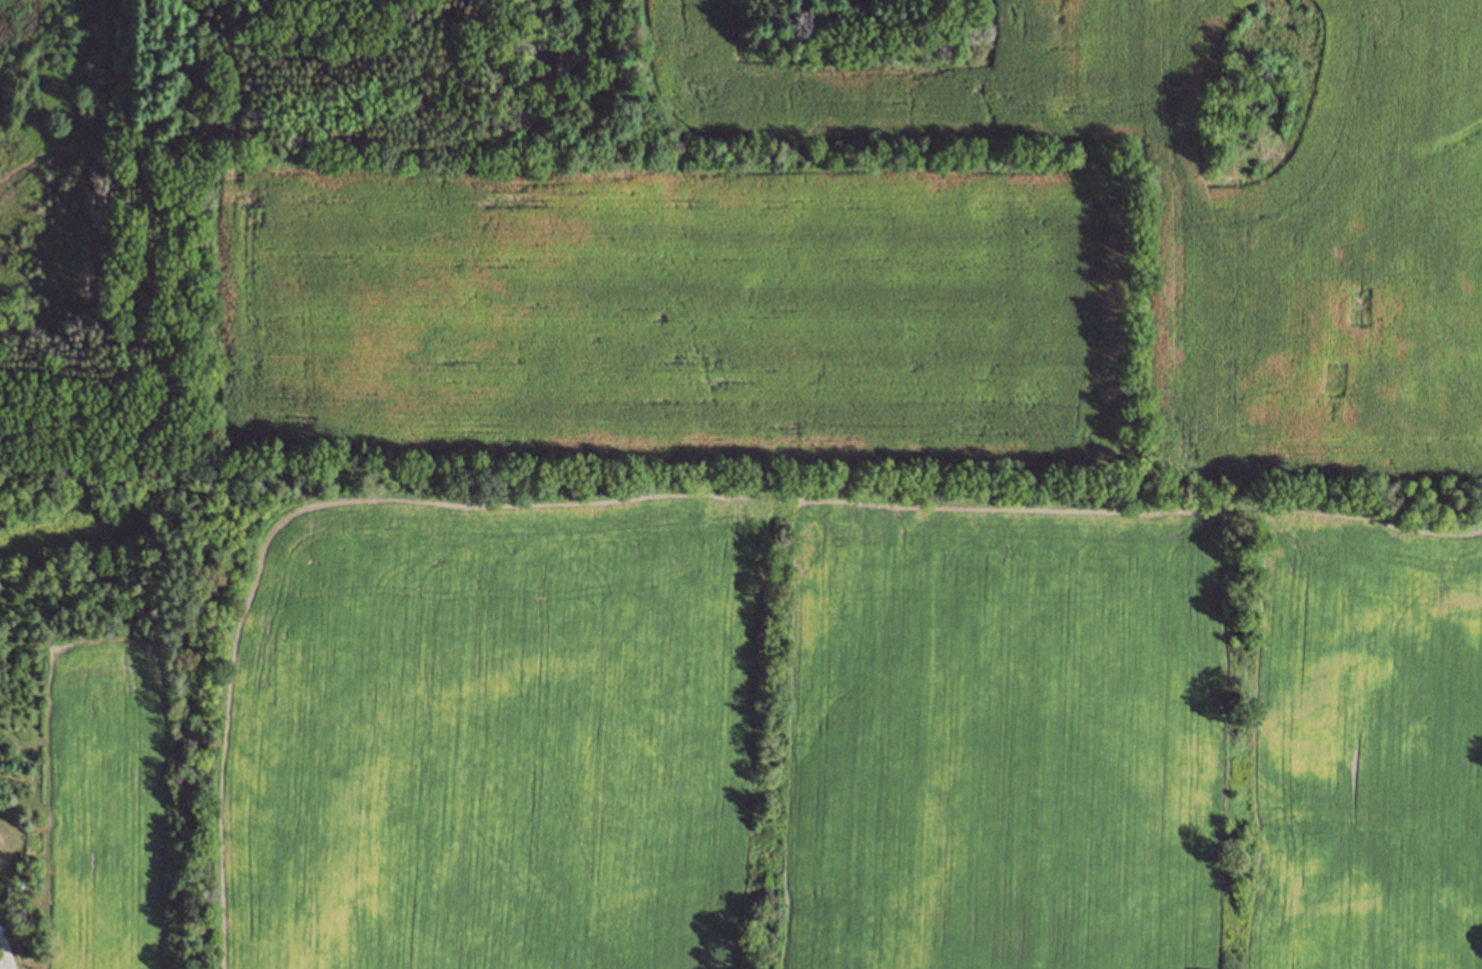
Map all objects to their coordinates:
road: (8, 953)

